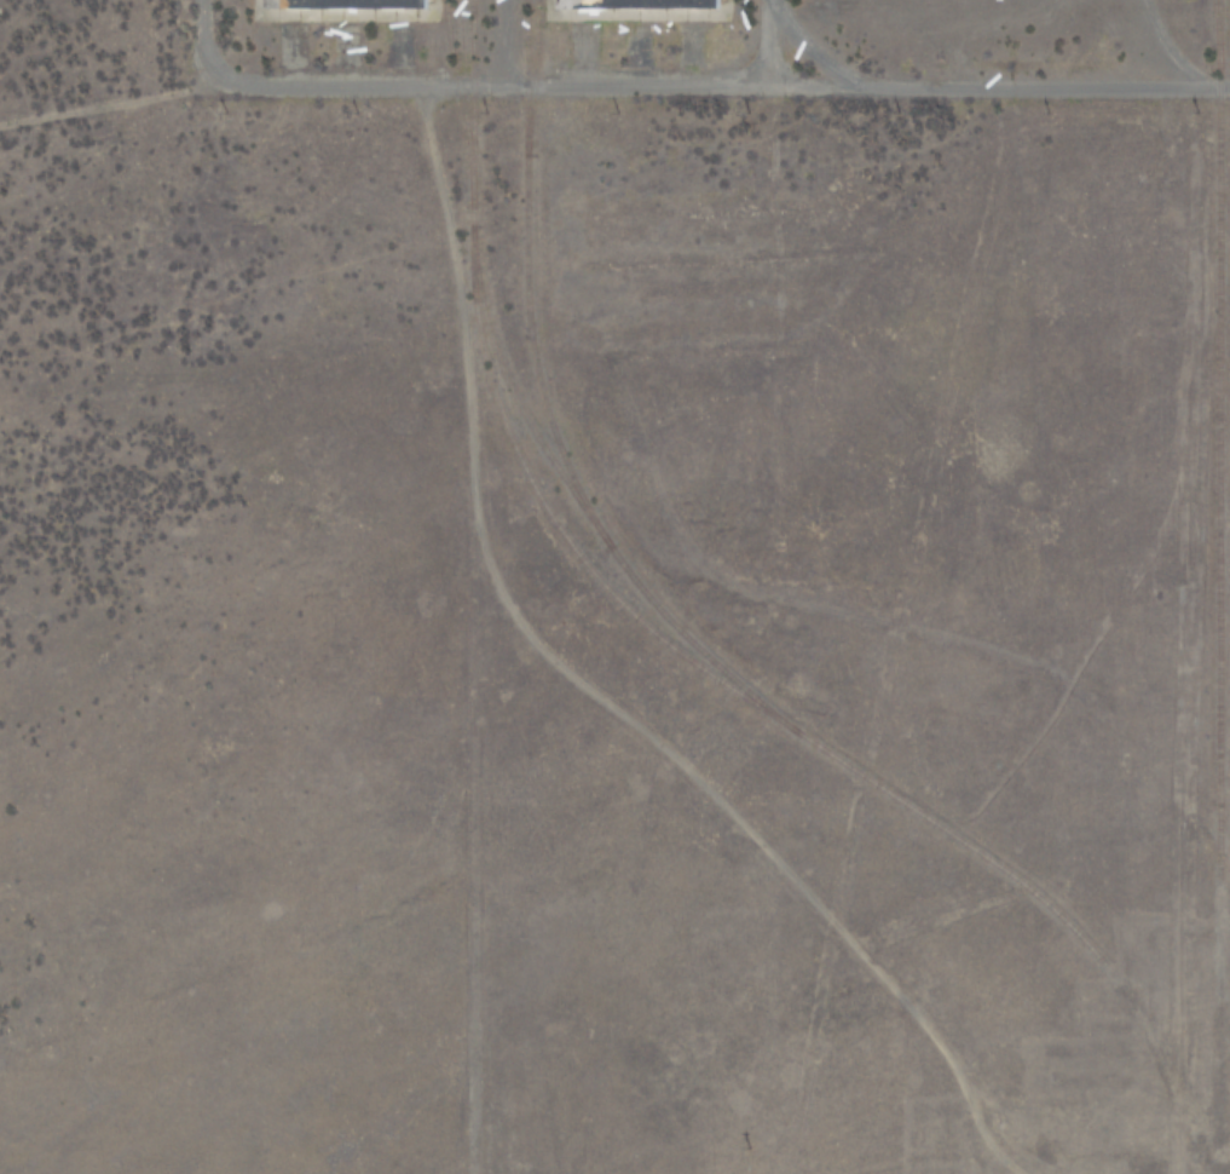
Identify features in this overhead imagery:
building: (342, 2)
building: (639, 2)
road: (809, 42)
railway: (526, 77)
road: (665, 87)
railway: (461, 100)
railway: (514, 396)
railway: (548, 412)
railway: (1212, 587)
railway: (695, 663)
road: (590, 704)

